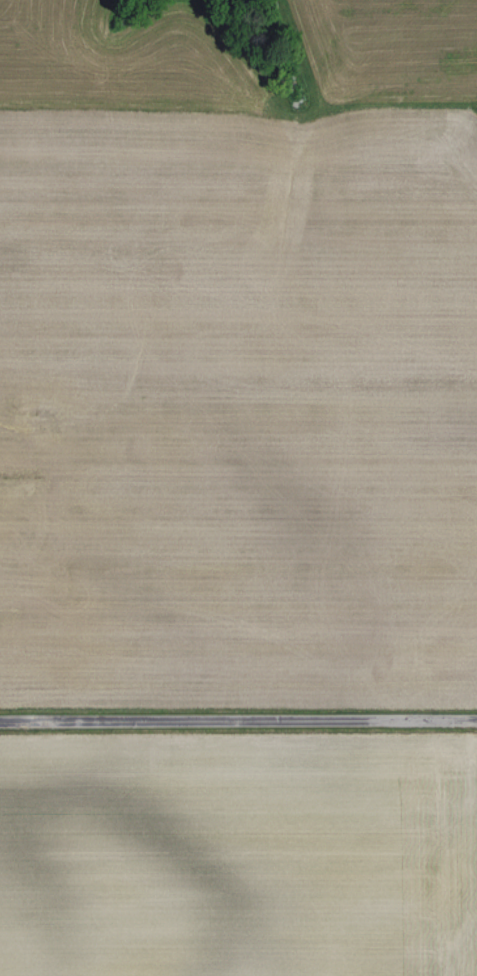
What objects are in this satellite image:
road: (238, 709)

